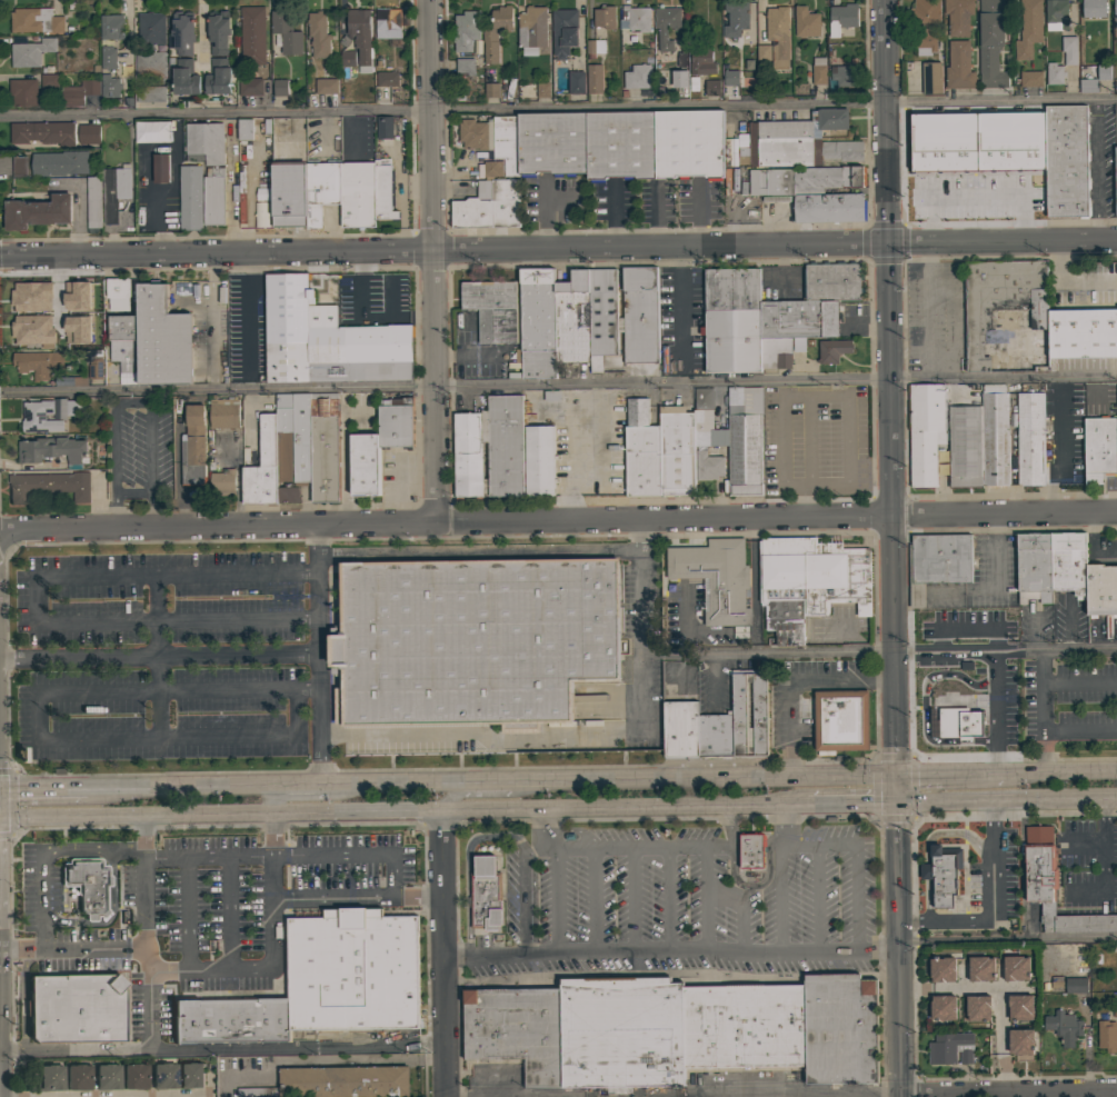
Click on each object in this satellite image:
building: (1094, 8)
building: (1115, 12)
building: (702, 13)
building: (925, 13)
building: (1054, 16)
building: (604, 17)
building: (958, 17)
building: (635, 19)
building: (735, 19)
building: (840, 19)
building: (36, 20)
building: (806, 22)
building: (387, 24)
building: (111, 26)
building: (151, 28)
building: (666, 28)
building: (531, 29)
building: (1027, 29)
building: (466, 30)
building: (564, 31)
building: (182, 32)
building: (219, 32)
building: (285, 32)
building: (359, 32)
building: (496, 32)
building: (318, 34)
building: (251, 37)
building: (777, 37)
building: (924, 40)
building: (990, 43)
building: (594, 49)
building: (1070, 50)
building: (30, 52)
building: (762, 53)
building: (108, 58)
building: (347, 59)
building: (701, 61)
building: (150, 63)
building: (465, 66)
building: (959, 66)
building: (818, 70)
building: (1103, 72)
building: (1054, 73)
building: (842, 74)
building: (637, 77)
building: (186, 78)
building: (218, 78)
building: (679, 78)
building: (730, 78)
building: (931, 78)
building: (1029, 78)
building: (594, 79)
building: (49, 80)
building: (386, 80)
building: (577, 82)
building: (1087, 84)
building: (250, 86)
building: (326, 86)
building: (110, 87)
building: (280, 87)
building: (712, 88)
building: (491, 89)
building: (541, 90)
building: (23, 91)
building: (79, 92)
building: (151, 93)
road: (558, 110)
road: (887, 121)
building: (385, 127)
building: (278, 128)
building: (245, 129)
building: (43, 132)
building: (89, 133)
building: (148, 133)
building: (799, 142)
building: (492, 144)
building: (550, 144)
building: (619, 146)
building: (688, 146)
building: (739, 151)
road: (146, 152)
building: (725, 156)
building: (996, 157)
building: (1067, 160)
building: (59, 162)
building: (209, 166)
building: (19, 167)
building: (160, 168)
road: (1099, 170)
building: (802, 181)
building: (1116, 181)
road: (232, 190)
building: (320, 190)
building: (382, 190)
building: (114, 191)
building: (288, 196)
building: (356, 196)
building: (190, 197)
building: (259, 197)
road: (976, 201)
building: (93, 202)
building: (488, 207)
building: (828, 209)
building: (38, 211)
building: (259, 216)
road: (1003, 241)
road: (443, 249)
road: (433, 262)
building: (831, 282)
road: (1066, 282)
building: (116, 295)
building: (79, 296)
building: (28, 298)
road: (680, 305)
building: (492, 309)
road: (928, 310)
building: (1005, 315)
building: (638, 316)
building: (600, 317)
building: (570, 319)
building: (732, 320)
building: (799, 320)
building: (535, 325)
building: (29, 331)
building: (70, 331)
building: (1083, 332)
building: (327, 338)
building: (160, 339)
building: (797, 345)
building: (122, 347)
building: (832, 350)
building: (775, 353)
building: (37, 363)
building: (96, 365)
building: (77, 381)
road: (558, 385)
building: (1106, 395)
road: (129, 402)
building: (72, 407)
building: (223, 412)
building: (39, 417)
building: (396, 422)
building: (705, 422)
building: (925, 431)
building: (995, 436)
building: (1030, 436)
building: (293, 437)
building: (744, 442)
building: (503, 446)
building: (323, 447)
building: (965, 447)
building: (193, 448)
building: (1098, 448)
building: (52, 450)
building: (640, 452)
building: (675, 452)
building: (469, 453)
building: (538, 460)
road: (1053, 461)
building: (365, 463)
building: (262, 466)
building: (707, 468)
building: (222, 482)
building: (49, 485)
building: (288, 495)
road: (558, 523)
road: (894, 523)
road: (635, 537)
road: (1090, 546)
road: (477, 555)
building: (937, 562)
building: (1067, 565)
building: (1033, 569)
road: (91, 575)
road: (752, 576)
building: (716, 578)
building: (809, 582)
road: (996, 589)
road: (916, 591)
building: (1100, 591)
road: (901, 592)
road: (153, 616)
road: (236, 624)
road: (961, 631)
building: (473, 640)
road: (891, 651)
road: (318, 655)
road: (159, 657)
road: (795, 679)
road: (1079, 680)
road: (96, 694)
road: (156, 698)
road: (921, 709)
road: (1043, 710)
road: (991, 712)
building: (758, 718)
building: (841, 720)
building: (956, 724)
building: (681, 729)
road: (1080, 730)
building: (716, 736)
road: (569, 737)
road: (237, 740)
road: (1059, 772)
road: (948, 775)
traffic signals: (897, 777)
road: (701, 779)
road: (476, 781)
road: (381, 782)
road: (298, 784)
road: (182, 785)
road: (42, 786)
road: (486, 792)
road: (313, 797)
road: (1007, 801)
road: (11, 802)
road: (850, 805)
traffic signals: (898, 805)
road: (535, 808)
road: (133, 814)
building: (829, 820)
road: (350, 824)
road: (729, 826)
road: (777, 826)
road: (545, 828)
road: (267, 834)
building: (567, 838)
road: (637, 847)
road: (42, 851)
building: (751, 851)
road: (351, 854)
road: (205, 857)
road: (855, 861)
building: (943, 874)
road: (143, 881)
building: (87, 884)
building: (1054, 886)
road: (522, 894)
building: (485, 895)
road: (357, 898)
road: (704, 900)
road: (777, 900)
road: (816, 900)
road: (555, 901)
road: (590, 901)
road: (631, 901)
road: (665, 901)
road: (740, 908)
road: (991, 908)
road: (186, 916)
road: (226, 916)
road: (1008, 937)
road: (81, 949)
road: (9, 950)
road: (900, 950)
road: (445, 953)
road: (672, 955)
road: (10, 965)
building: (980, 968)
building: (1015, 968)
building: (943, 969)
road: (263, 971)
building: (321, 981)
building: (1076, 985)
road: (917, 988)
road: (996, 988)
road: (147, 998)
building: (943, 1007)
building: (1020, 1007)
building: (76, 1008)
building: (978, 1008)
building: (1064, 1027)
building: (675, 1029)
building: (1107, 1035)
building: (1020, 1041)
road: (229, 1048)
building: (949, 1048)
road: (6, 1051)
road: (1003, 1073)
building: (134, 1075)
building: (164, 1075)
building: (191, 1075)
building: (107, 1076)
building: (49, 1077)
building: (77, 1077)
building: (336, 1083)
road: (1035, 1095)
road: (1026, 1096)

